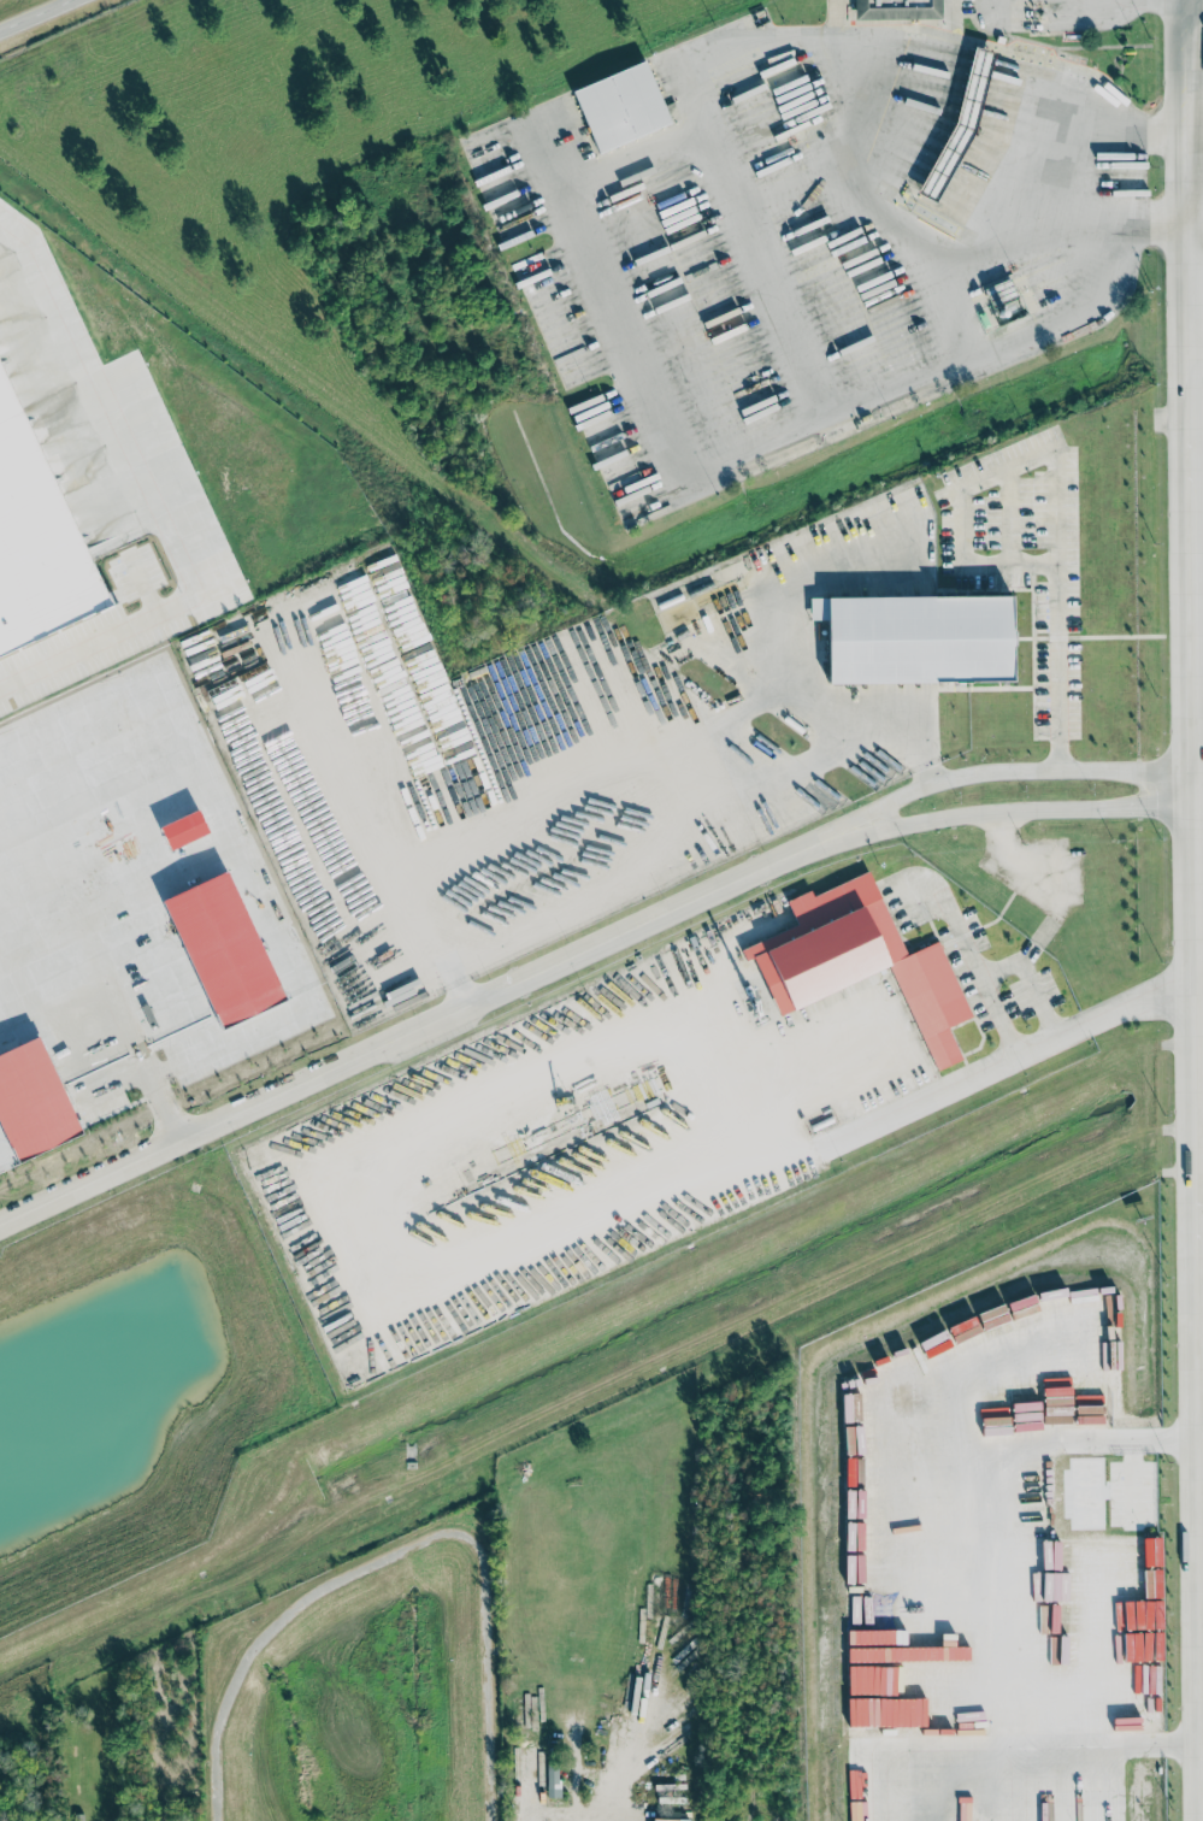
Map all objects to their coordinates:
building: (896, 10)
road: (34, 14)
road: (1190, 65)
road: (1196, 76)
road: (974, 84)
building: (620, 105)
building: (957, 124)
gas station: (957, 124)
road: (1122, 125)
road: (1044, 139)
road: (855, 185)
road: (1091, 226)
road: (1197, 258)
road: (768, 275)
road: (608, 316)
road: (1058, 316)
road: (1197, 352)
road: (1050, 476)
road: (157, 502)
building: (37, 538)
building: (916, 637)
road: (838, 725)
road: (637, 764)
road: (1199, 768)
road: (984, 771)
road: (1199, 805)
road: (991, 812)
road: (1057, 902)
building: (859, 960)
road: (972, 962)
road: (1198, 976)
road: (391, 1041)
road: (1006, 1060)
building: (33, 1102)
road: (1072, 1442)
building: (1039, 1484)
road: (609, 1674)
road: (1013, 1754)
building: (553, 1780)
building: (77, 1816)
building: (668, 1819)

